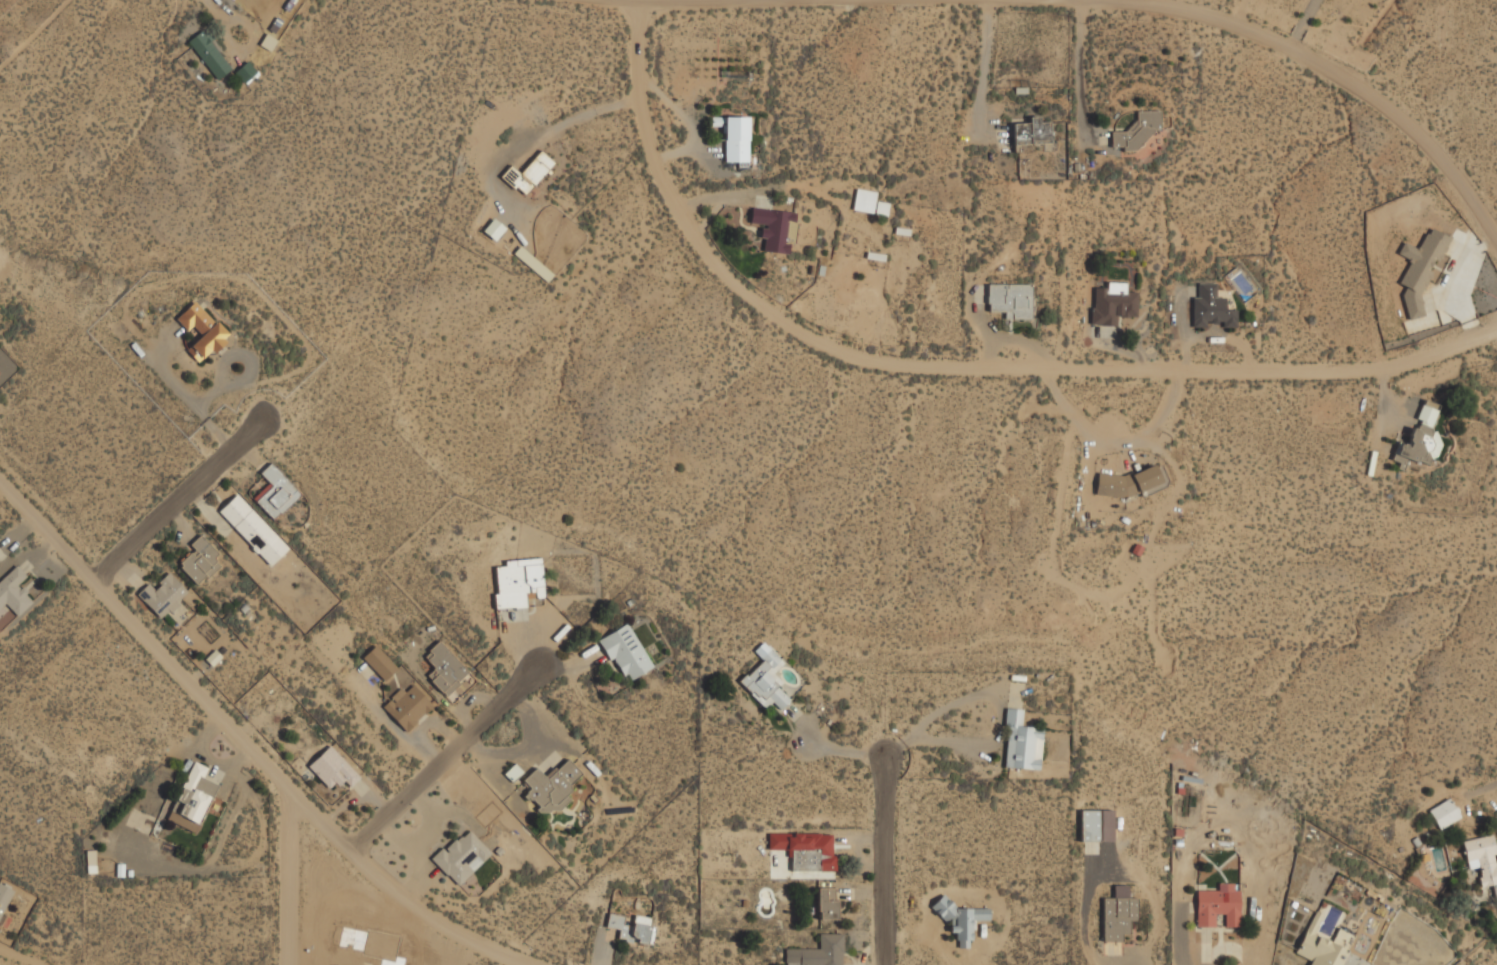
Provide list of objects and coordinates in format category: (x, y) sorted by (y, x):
road: (1112, 2)
road: (1299, 24)
building: (209, 55)
building: (1136, 131)
building: (1031, 132)
building: (735, 139)
building: (527, 174)
building: (863, 201)
building: (772, 228)
building: (1419, 269)
building: (1010, 300)
building: (1112, 304)
building: (1210, 308)
building: (193, 312)
road: (951, 366)
building: (1419, 439)
building: (1126, 483)
building: (275, 492)
road: (175, 498)
building: (253, 530)
building: (199, 561)
building: (517, 582)
building: (13, 592)
building: (162, 595)
building: (625, 652)
building: (379, 663)
building: (444, 669)
building: (765, 679)
building: (406, 707)
road: (1000, 720)
building: (1021, 743)
road: (245, 746)
road: (835, 749)
road: (442, 758)
building: (332, 769)
building: (551, 786)
building: (1443, 814)
building: (1088, 826)
building: (805, 850)
building: (462, 857)
road: (880, 859)
building: (1482, 860)
road: (290, 882)
building: (4, 897)
building: (826, 904)
building: (1218, 906)
building: (1117, 914)
building: (959, 920)
building: (1322, 948)
building: (818, 952)

